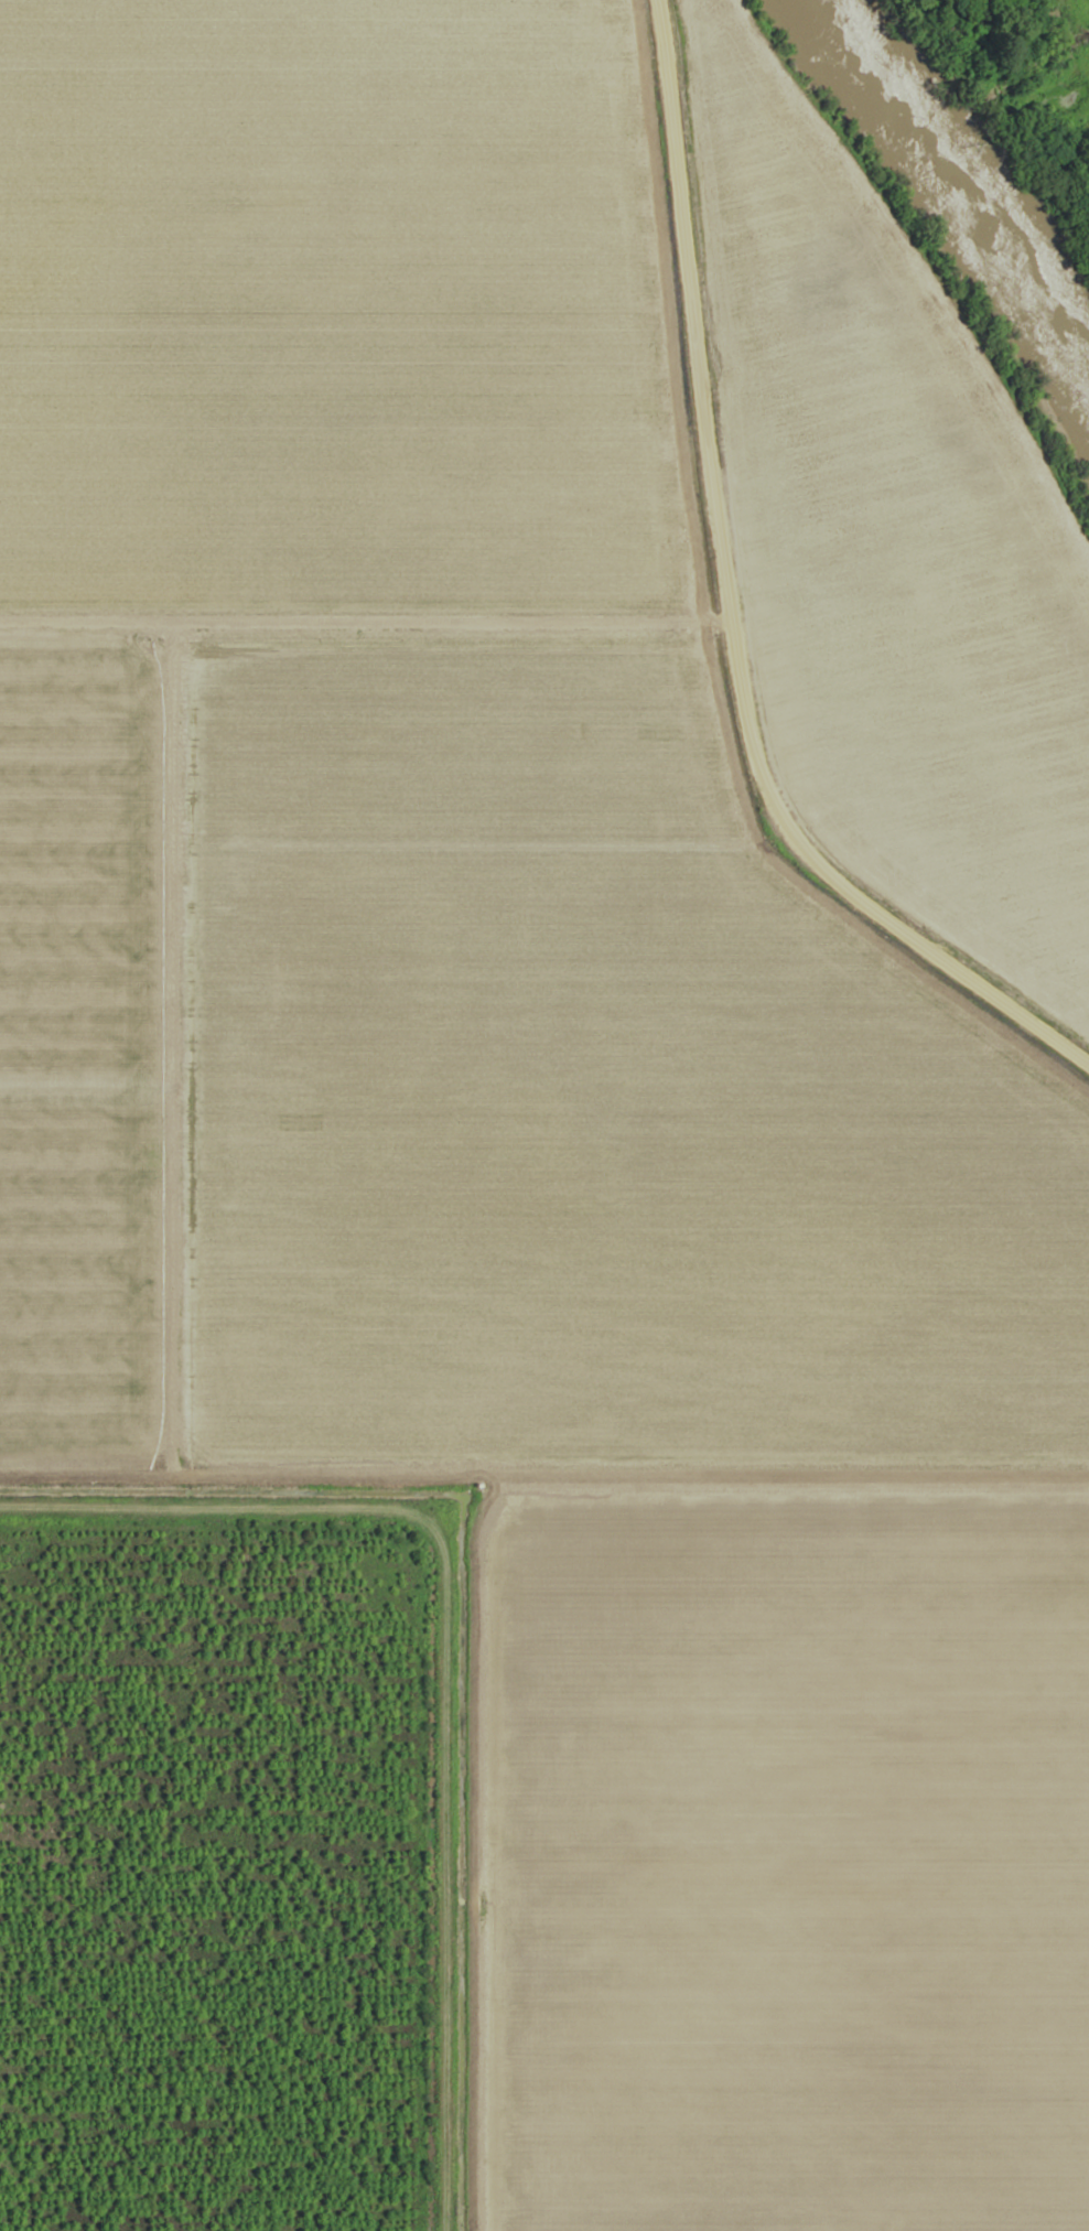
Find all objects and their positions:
river: (962, 195)
road: (696, 638)
road: (449, 1683)

